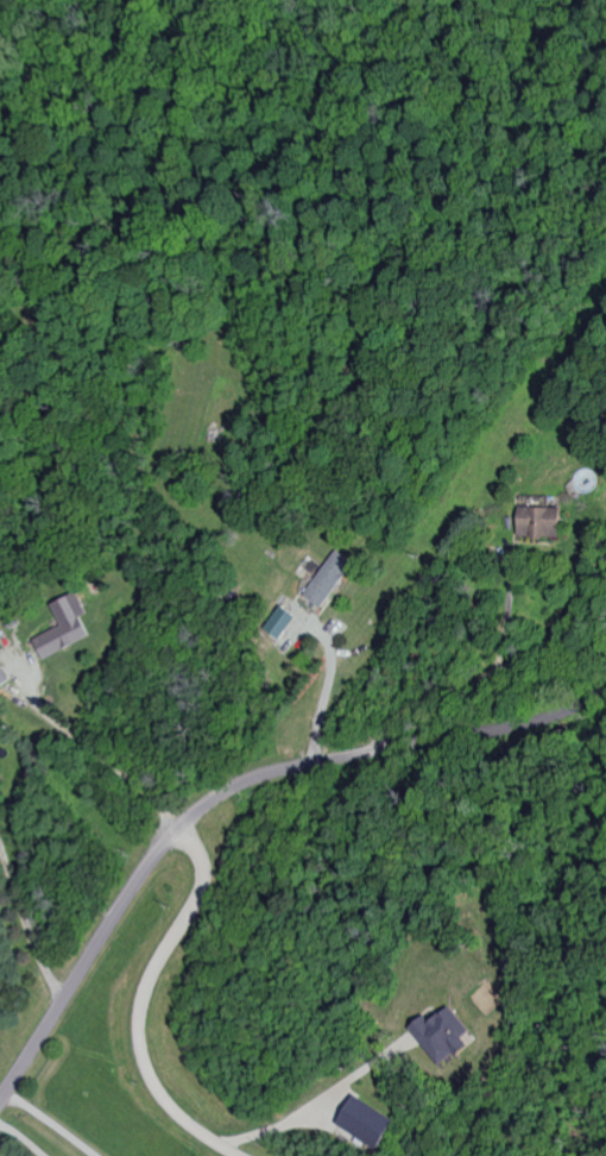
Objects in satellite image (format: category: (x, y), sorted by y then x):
building: (334, 579)
road: (507, 608)
road: (569, 626)
building: (70, 627)
building: (5, 676)
road: (329, 685)
road: (429, 697)
road: (116, 766)
road: (228, 791)
road: (29, 926)
road: (143, 1004)
building: (442, 1038)
road: (323, 1100)
road: (52, 1123)
building: (371, 1123)

